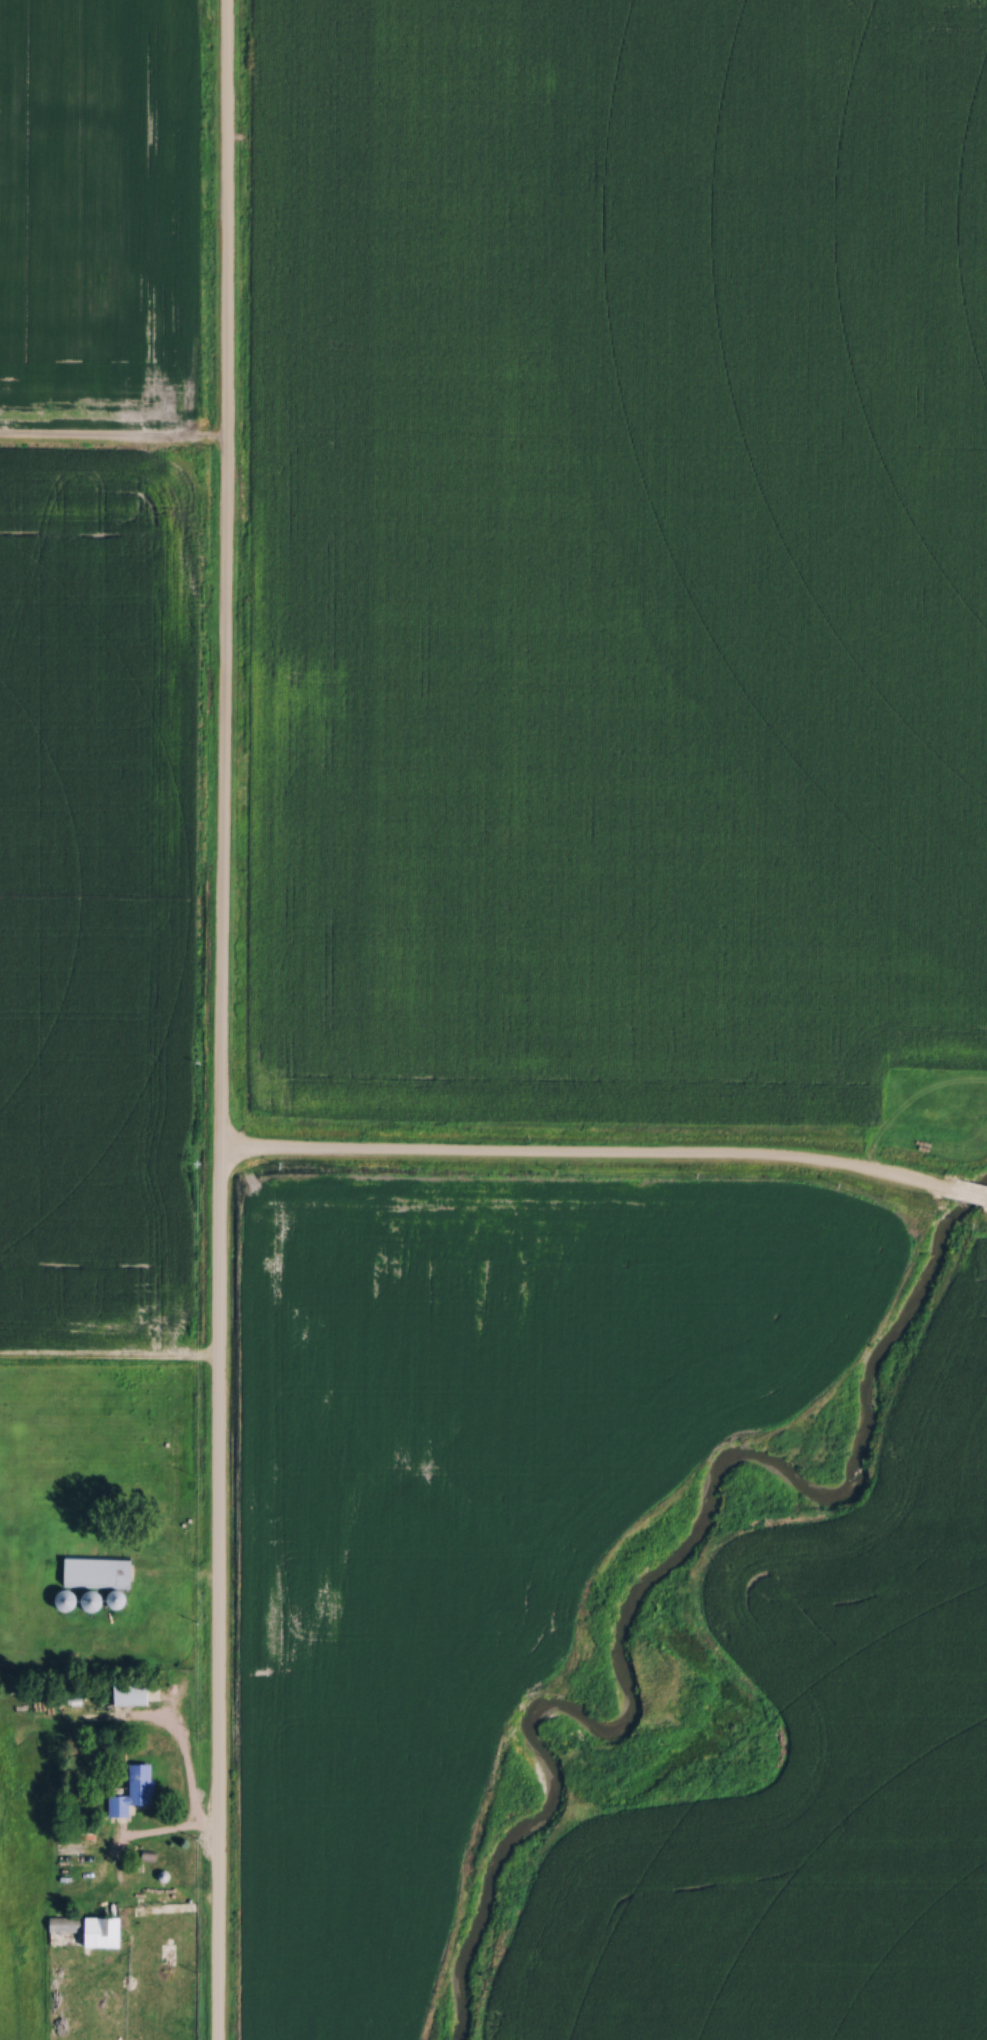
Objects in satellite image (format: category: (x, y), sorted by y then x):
road: (224, 1019)
road: (590, 1156)
road: (963, 1203)
road: (981, 1209)
river: (657, 1573)
building: (99, 1580)
building: (67, 1599)
building: (131, 1692)
building: (134, 1789)
building: (85, 1929)

